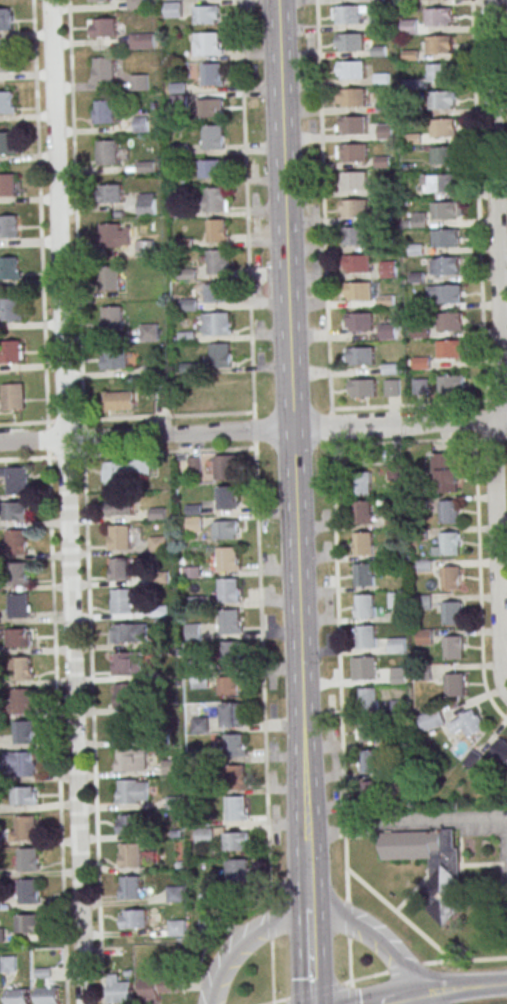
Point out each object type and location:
building: (98, 1)
road: (506, 3)
building: (135, 4)
building: (174, 9)
building: (206, 14)
building: (348, 14)
building: (439, 17)
building: (5, 20)
building: (377, 21)
building: (102, 27)
building: (410, 27)
building: (142, 40)
building: (350, 42)
building: (211, 44)
building: (440, 45)
building: (379, 51)
building: (411, 55)
building: (6, 62)
building: (103, 69)
building: (352, 70)
building: (441, 72)
building: (213, 75)
building: (382, 79)
building: (139, 81)
building: (411, 84)
building: (353, 97)
building: (442, 100)
building: (6, 103)
building: (383, 104)
building: (210, 108)
building: (104, 111)
building: (141, 123)
building: (353, 125)
building: (444, 128)
building: (385, 132)
building: (214, 138)
building: (414, 139)
building: (7, 144)
building: (106, 152)
building: (355, 153)
building: (446, 155)
building: (383, 162)
building: (212, 168)
building: (354, 180)
building: (445, 183)
building: (8, 185)
building: (383, 189)
building: (109, 193)
building: (216, 200)
building: (145, 203)
road: (478, 204)
road: (245, 205)
road: (323, 206)
building: (355, 208)
building: (446, 211)
road: (74, 212)
road: (38, 214)
building: (384, 217)
building: (419, 219)
building: (8, 226)
building: (218, 231)
building: (110, 234)
building: (356, 236)
building: (447, 239)
building: (387, 243)
building: (143, 247)
building: (416, 250)
building: (218, 263)
building: (358, 264)
building: (448, 266)
building: (10, 267)
building: (389, 268)
building: (111, 278)
building: (417, 278)
building: (359, 292)
building: (219, 294)
building: (451, 294)
building: (386, 300)
building: (188, 304)
building: (418, 306)
building: (11, 309)
building: (111, 318)
building: (360, 322)
building: (452, 322)
building: (218, 325)
building: (149, 332)
building: (388, 332)
building: (421, 332)
building: (451, 349)
road: (501, 349)
building: (10, 351)
building: (222, 356)
building: (361, 356)
building: (115, 360)
building: (390, 369)
building: (451, 384)
building: (420, 387)
building: (362, 388)
building: (392, 388)
building: (13, 397)
building: (119, 400)
road: (499, 400)
road: (411, 405)
road: (253, 414)
road: (164, 415)
road: (289, 418)
road: (480, 420)
road: (64, 421)
road: (25, 422)
road: (330, 427)
road: (253, 430)
road: (254, 430)
road: (82, 437)
road: (493, 437)
road: (506, 437)
road: (47, 440)
road: (406, 441)
road: (166, 452)
road: (64, 456)
road: (26, 458)
building: (141, 466)
building: (225, 469)
building: (394, 472)
building: (445, 472)
building: (116, 475)
building: (18, 482)
building: (361, 484)
building: (227, 499)
road: (68, 501)
building: (119, 506)
building: (14, 511)
building: (448, 511)
building: (362, 513)
building: (225, 529)
building: (120, 538)
building: (17, 543)
building: (157, 543)
building: (448, 544)
building: (363, 545)
building: (228, 560)
building: (121, 570)
building: (19, 574)
building: (364, 575)
building: (451, 577)
road: (479, 579)
building: (229, 591)
building: (396, 600)
building: (123, 603)
building: (423, 603)
building: (19, 607)
building: (365, 607)
building: (452, 612)
building: (231, 622)
building: (193, 631)
building: (128, 632)
building: (18, 637)
building: (366, 638)
building: (424, 638)
building: (397, 646)
building: (453, 647)
building: (232, 654)
building: (128, 663)
building: (364, 669)
building: (22, 671)
road: (338, 671)
building: (422, 672)
road: (262, 673)
building: (399, 676)
building: (198, 680)
building: (453, 684)
building: (231, 685)
building: (126, 698)
building: (369, 700)
building: (23, 703)
building: (233, 714)
building: (431, 719)
building: (469, 724)
road: (92, 726)
road: (57, 727)
building: (200, 727)
building: (128, 730)
building: (370, 732)
building: (25, 734)
building: (235, 747)
building: (500, 749)
building: (201, 758)
building: (472, 759)
building: (133, 762)
building: (371, 763)
building: (20, 766)
building: (172, 768)
building: (236, 778)
building: (202, 789)
building: (134, 793)
building: (371, 794)
building: (24, 795)
building: (236, 809)
road: (404, 818)
building: (129, 823)
building: (27, 830)
building: (204, 836)
building: (236, 841)
building: (132, 857)
building: (29, 861)
building: (433, 867)
road: (305, 871)
building: (240, 873)
building: (131, 889)
building: (29, 892)
building: (176, 895)
building: (133, 918)
road: (347, 920)
road: (270, 922)
building: (28, 923)
building: (209, 928)
building: (177, 930)
building: (1, 934)
road: (372, 937)
road: (242, 941)
road: (308, 955)
road: (464, 959)
road: (349, 962)
building: (7, 963)
road: (403, 967)
road: (272, 971)
road: (363, 977)
building: (157, 987)
road: (458, 988)
road: (314, 992)
building: (121, 993)
road: (350, 995)
building: (18, 997)
building: (49, 997)
road: (391, 1000)
road: (411, 1000)
road: (274, 1001)
road: (273, 1003)

